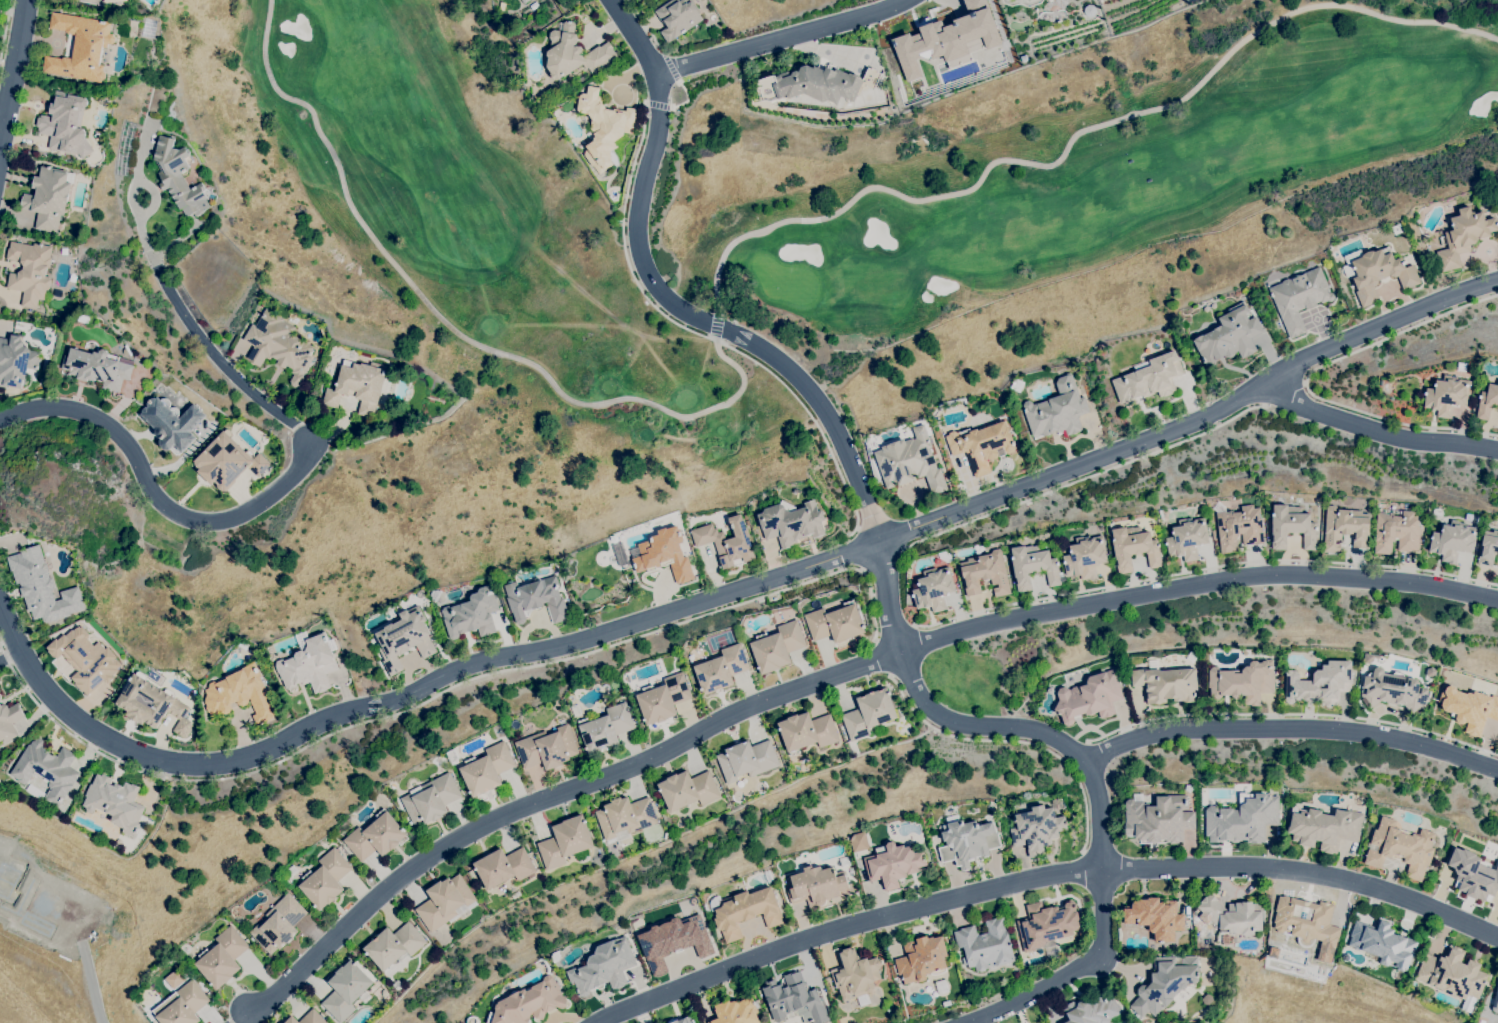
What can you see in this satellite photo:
building: (1006, 0)
building: (113, 1)
building: (525, 1)
building: (1089, 10)
building: (678, 17)
road: (4, 28)
road: (650, 30)
road: (780, 36)
building: (945, 38)
building: (80, 47)
building: (574, 53)
building: (1024, 59)
road: (673, 67)
road: (12, 68)
building: (826, 83)
road: (688, 97)
road: (659, 102)
building: (65, 125)
building: (603, 127)
road: (1075, 135)
building: (178, 177)
building: (48, 197)
road: (139, 200)
park: (864, 212)
building: (1396, 229)
building: (1463, 236)
building: (30, 271)
building: (1376, 273)
park: (787, 279)
building: (1299, 298)
road: (450, 324)
road: (717, 325)
road: (703, 333)
building: (1229, 336)
road: (741, 337)
building: (278, 345)
building: (16, 361)
building: (98, 368)
road: (1307, 376)
building: (1149, 379)
building: (1016, 385)
building: (361, 386)
road: (1285, 389)
building: (1446, 395)
road: (817, 401)
building: (1487, 401)
building: (1057, 410)
building: (172, 423)
road: (1379, 430)
building: (982, 444)
building: (224, 460)
building: (910, 462)
road: (1086, 478)
road: (260, 500)
building: (791, 522)
building: (1291, 526)
building: (1239, 528)
building: (1345, 528)
building: (1397, 532)
building: (1187, 538)
building: (1452, 541)
building: (726, 542)
road: (860, 547)
building: (1134, 548)
building: (1488, 548)
building: (665, 554)
building: (945, 556)
building: (1085, 556)
road: (882, 558)
building: (1033, 566)
road: (1205, 570)
building: (985, 573)
building: (42, 587)
road: (729, 589)
building: (933, 589)
building: (536, 599)
building: (472, 614)
building: (835, 623)
building: (61, 631)
road: (896, 633)
building: (404, 639)
building: (777, 646)
road: (883, 654)
road: (10, 655)
building: (247, 658)
building: (85, 659)
building: (308, 665)
building: (721, 669)
road: (831, 675)
building: (1243, 682)
building: (1166, 683)
building: (1320, 684)
building: (1393, 690)
road: (440, 692)
building: (240, 694)
building: (0, 696)
building: (664, 698)
building: (1089, 698)
building: (151, 704)
building: (1469, 708)
building: (869, 714)
road: (1285, 714)
building: (9, 720)
building: (606, 728)
road: (1295, 728)
building: (807, 732)
building: (547, 748)
road: (1026, 748)
building: (747, 760)
building: (47, 769)
building: (487, 769)
building: (688, 790)
building: (431, 799)
building: (115, 803)
building: (624, 818)
building: (1159, 819)
building: (1242, 820)
building: (1324, 828)
building: (1037, 829)
building: (375, 836)
building: (565, 841)
building: (967, 841)
building: (857, 842)
building: (1401, 848)
building: (894, 864)
building: (504, 867)
building: (1473, 875)
road: (1040, 877)
building: (325, 879)
building: (819, 885)
building: (446, 902)
building: (747, 912)
building: (1231, 916)
building: (1156, 918)
building: (1306, 922)
building: (1045, 923)
building: (279, 924)
road: (1106, 932)
building: (673, 940)
building: (1383, 943)
building: (985, 944)
building: (394, 945)
building: (222, 958)
building: (921, 959)
building: (603, 967)
building: (1453, 974)
building: (856, 976)
road: (91, 982)
building: (1166, 984)
building: (942, 987)
building: (346, 990)
building: (795, 999)
building: (1207, 999)
building: (1494, 1001)
building: (529, 1003)
building: (184, 1005)
building: (887, 1007)
building: (1092, 1010)
building: (736, 1012)
road: (238, 1016)
building: (308, 1018)
building: (684, 1020)
building: (1061, 1022)

